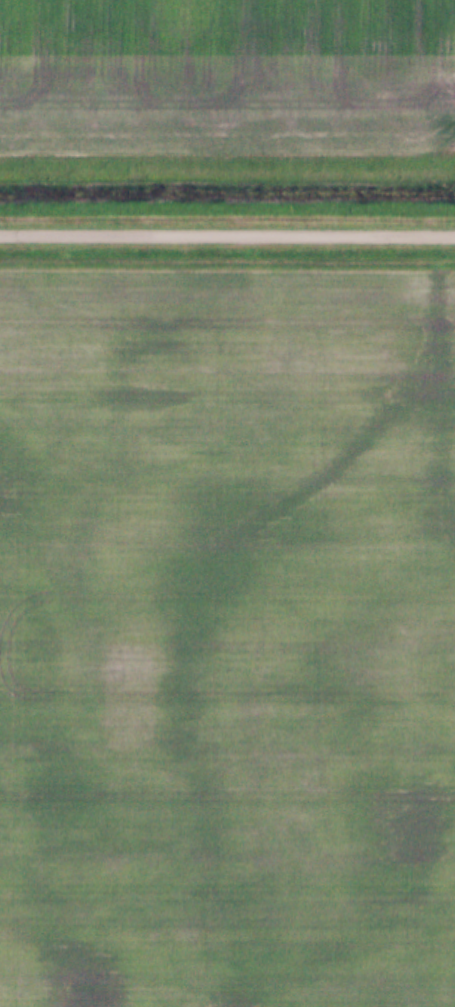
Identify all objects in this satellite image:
road: (227, 237)

